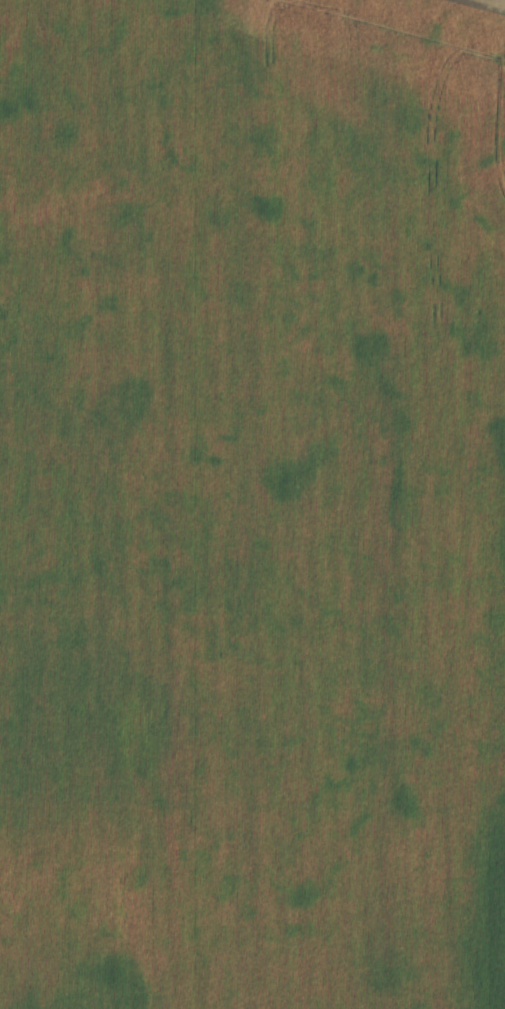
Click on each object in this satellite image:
crop: (252, 504)

